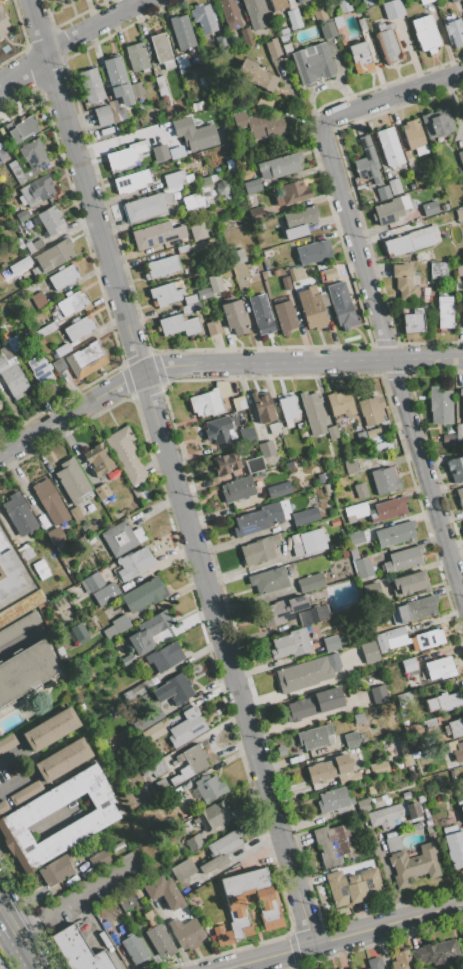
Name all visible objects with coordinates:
building: (57, 0)
building: (58, 0)
building: (322, 0)
building: (299, 1)
building: (424, 1)
building: (452, 1)
building: (367, 2)
building: (278, 4)
building: (291, 4)
building: (342, 6)
building: (392, 9)
building: (254, 13)
building: (229, 14)
building: (319, 14)
building: (202, 18)
building: (292, 18)
building: (268, 21)
building: (338, 22)
building: (3, 23)
building: (361, 24)
road: (96, 27)
building: (327, 30)
building: (453, 31)
building: (181, 32)
building: (425, 33)
building: (246, 36)
building: (0, 38)
building: (388, 43)
building: (160, 47)
building: (272, 47)
building: (286, 48)
building: (137, 57)
building: (360, 57)
building: (181, 61)
building: (313, 63)
building: (168, 64)
road: (24, 68)
building: (256, 75)
building: (117, 80)
building: (90, 85)
building: (160, 85)
building: (137, 89)
road: (394, 97)
building: (164, 99)
building: (263, 103)
building: (196, 106)
building: (116, 111)
building: (102, 115)
building: (437, 123)
building: (259, 125)
building: (23, 129)
building: (193, 134)
building: (414, 136)
building: (173, 143)
building: (389, 147)
building: (159, 153)
building: (2, 155)
building: (124, 155)
building: (32, 157)
building: (460, 157)
building: (367, 162)
building: (229, 164)
building: (279, 165)
building: (14, 167)
building: (418, 175)
building: (174, 178)
building: (130, 181)
building: (205, 182)
building: (252, 186)
building: (394, 186)
building: (222, 187)
building: (35, 190)
building: (290, 192)
building: (382, 192)
building: (193, 202)
building: (146, 206)
building: (429, 208)
building: (390, 209)
building: (255, 214)
building: (459, 214)
building: (19, 216)
building: (300, 217)
building: (50, 220)
building: (18, 228)
building: (198, 232)
building: (295, 232)
building: (152, 235)
building: (185, 235)
building: (423, 237)
building: (36, 243)
building: (200, 245)
building: (398, 245)
building: (28, 247)
building: (182, 249)
building: (314, 252)
building: (266, 253)
building: (54, 255)
building: (236, 256)
building: (2, 264)
building: (19, 265)
building: (162, 266)
building: (459, 269)
building: (438, 270)
building: (298, 273)
building: (328, 273)
building: (292, 275)
building: (63, 277)
building: (405, 282)
building: (214, 283)
building: (285, 283)
building: (312, 289)
building: (425, 291)
building: (165, 294)
building: (425, 298)
building: (190, 299)
building: (324, 299)
building: (38, 300)
building: (70, 303)
building: (341, 305)
building: (462, 306)
building: (311, 308)
building: (186, 309)
building: (444, 312)
building: (261, 314)
building: (233, 317)
building: (284, 317)
building: (412, 320)
building: (178, 325)
building: (213, 327)
building: (78, 329)
building: (45, 330)
building: (13, 344)
building: (59, 351)
building: (86, 359)
road: (392, 361)
building: (58, 365)
road: (220, 365)
building: (39, 370)
building: (11, 374)
building: (460, 392)
building: (0, 402)
building: (208, 402)
building: (238, 403)
building: (339, 404)
building: (462, 404)
building: (439, 405)
building: (0, 407)
building: (262, 407)
building: (288, 408)
building: (371, 410)
building: (313, 413)
building: (274, 428)
building: (216, 429)
building: (373, 432)
building: (332, 433)
building: (246, 434)
building: (361, 438)
building: (447, 438)
building: (266, 449)
building: (126, 455)
building: (98, 459)
building: (225, 463)
building: (254, 464)
building: (351, 466)
building: (456, 469)
road: (172, 472)
building: (321, 478)
building: (72, 480)
building: (385, 480)
building: (237, 489)
building: (327, 489)
building: (279, 490)
building: (360, 490)
building: (101, 491)
building: (138, 496)
building: (460, 496)
building: (50, 502)
building: (388, 509)
building: (355, 512)
building: (19, 514)
building: (75, 515)
building: (305, 516)
building: (261, 518)
building: (335, 522)
building: (462, 523)
building: (395, 534)
building: (56, 536)
building: (122, 538)
building: (90, 540)
building: (308, 542)
building: (354, 542)
building: (60, 547)
building: (259, 550)
building: (25, 552)
building: (403, 559)
building: (134, 563)
building: (40, 566)
building: (363, 569)
building: (8, 572)
road: (26, 575)
building: (268, 580)
building: (311, 583)
building: (409, 583)
building: (368, 587)
building: (99, 588)
building: (143, 594)
building: (20, 607)
building: (386, 608)
building: (417, 609)
building: (281, 611)
building: (313, 615)
building: (18, 626)
building: (116, 626)
building: (148, 631)
building: (80, 634)
building: (390, 638)
building: (429, 639)
building: (290, 644)
building: (331, 644)
building: (368, 652)
building: (95, 654)
building: (165, 656)
building: (127, 659)
building: (409, 665)
building: (439, 668)
building: (25, 671)
building: (294, 675)
building: (141, 688)
building: (173, 690)
building: (379, 693)
building: (444, 702)
building: (314, 704)
building: (147, 719)
building: (428, 723)
building: (187, 728)
building: (454, 728)
building: (49, 729)
building: (153, 732)
building: (316, 737)
building: (351, 740)
building: (7, 742)
building: (390, 749)
building: (458, 752)
building: (62, 760)
building: (189, 763)
building: (161, 766)
building: (382, 766)
building: (332, 769)
road: (28, 770)
building: (162, 786)
building: (209, 788)
building: (26, 793)
building: (175, 795)
building: (334, 800)
building: (373, 802)
building: (3, 807)
building: (462, 810)
building: (392, 814)
building: (212, 816)
building: (20, 818)
building: (427, 823)
building: (449, 830)
building: (194, 842)
building: (335, 843)
building: (393, 844)
building: (455, 849)
building: (221, 850)
building: (99, 860)
building: (414, 865)
building: (56, 870)
building: (183, 870)
building: (353, 886)
building: (164, 893)
road: (73, 895)
building: (235, 906)
road: (8, 918)
road: (99, 931)
building: (186, 933)
building: (462, 935)
road: (345, 936)
building: (158, 937)
road: (27, 949)
building: (134, 949)
building: (78, 951)
building: (436, 952)
building: (401, 960)
building: (3, 961)
building: (374, 963)
road: (37, 966)

